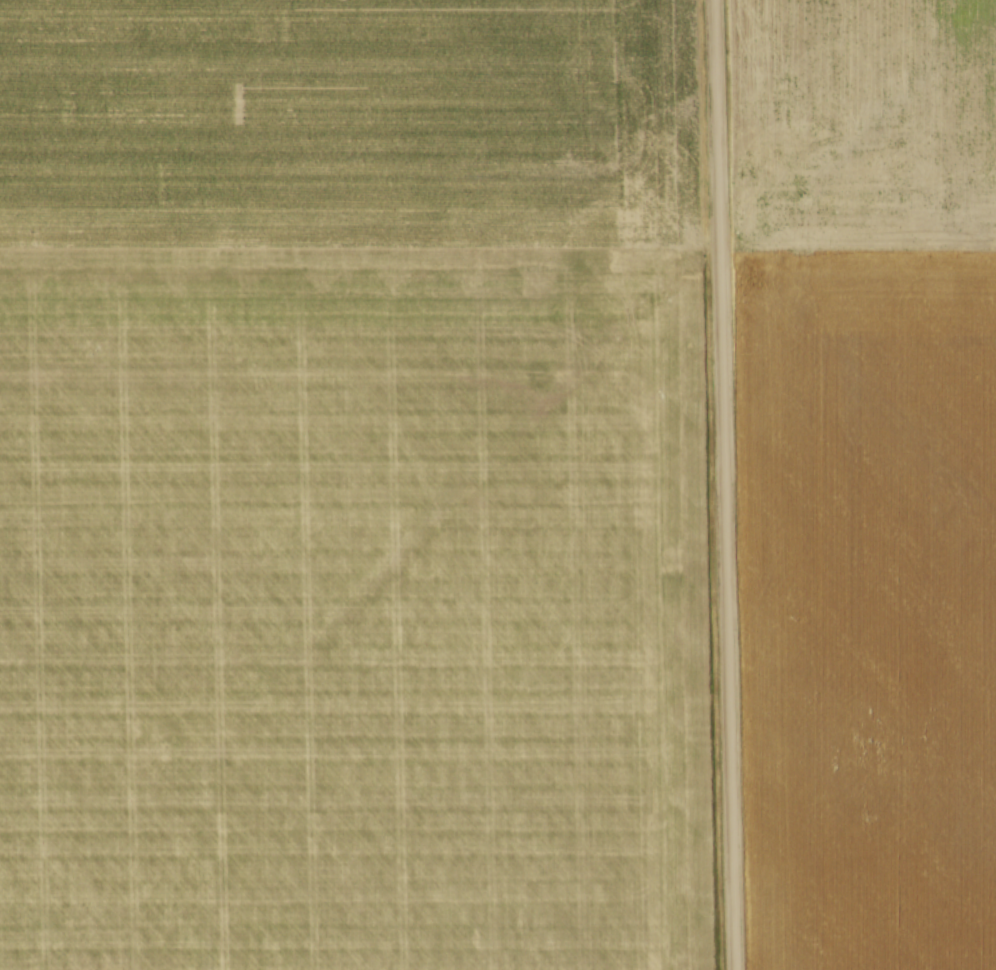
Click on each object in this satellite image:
crop: (865, 478)
road: (719, 484)
crop: (349, 487)

